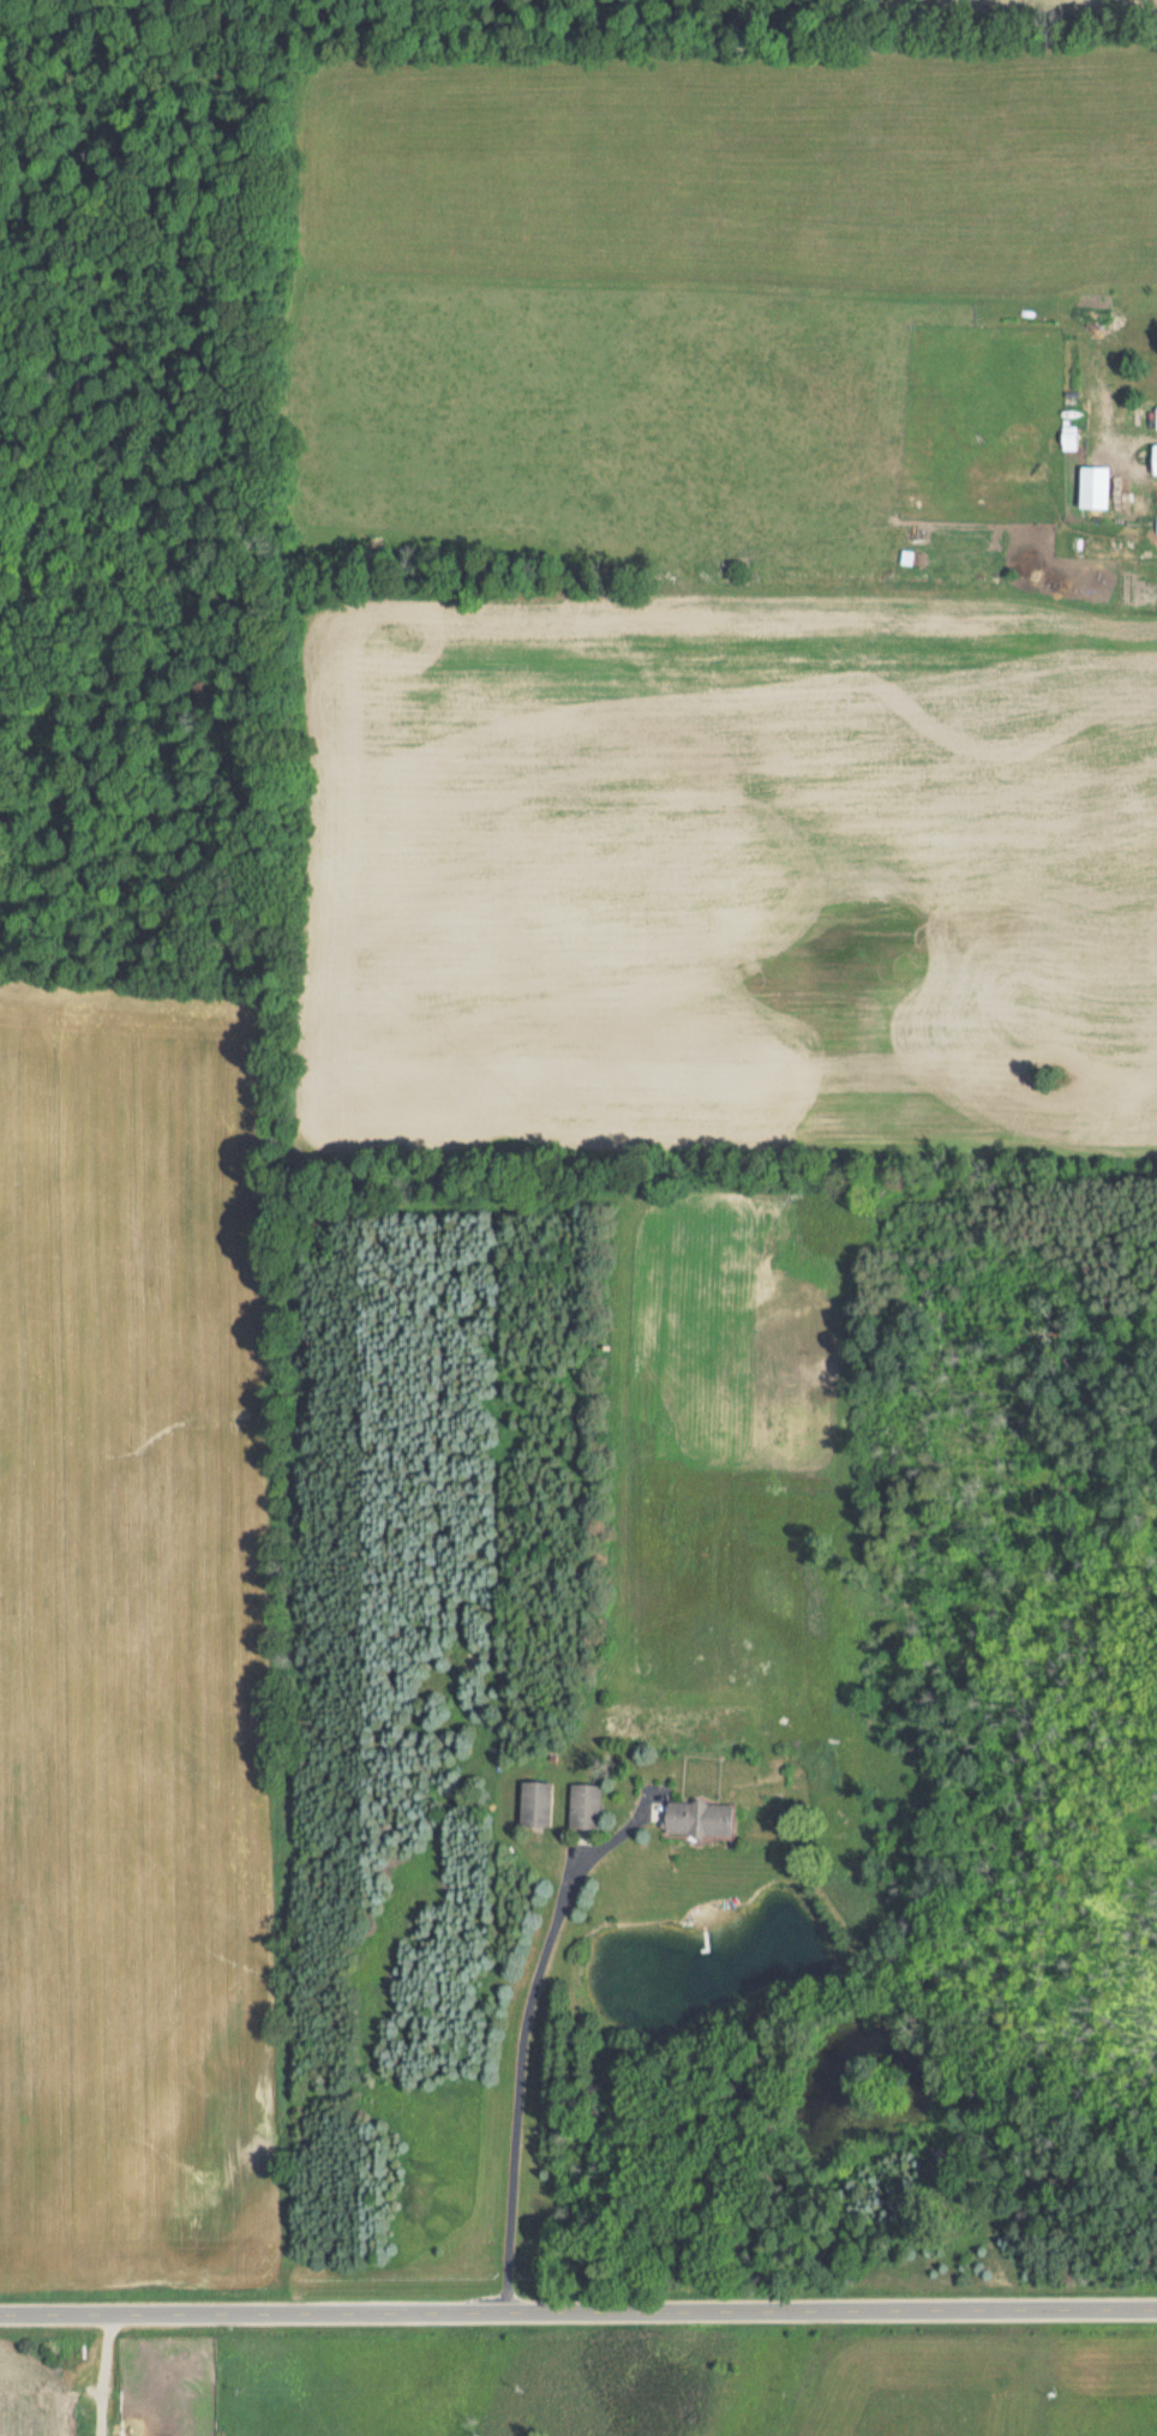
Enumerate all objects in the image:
building: (1153, 460)
building: (534, 1802)
building: (583, 1806)
building: (697, 1818)
road: (523, 2034)
road: (577, 2309)

